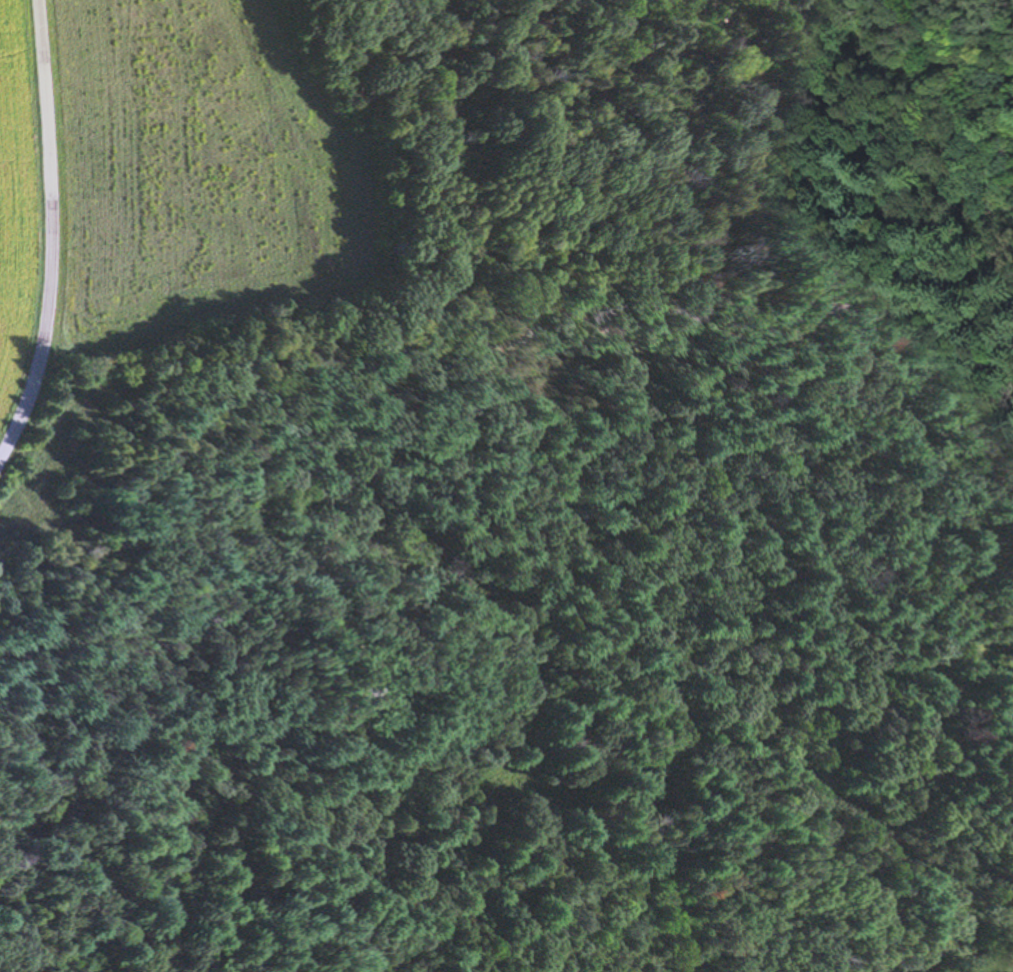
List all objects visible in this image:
road: (46, 233)

